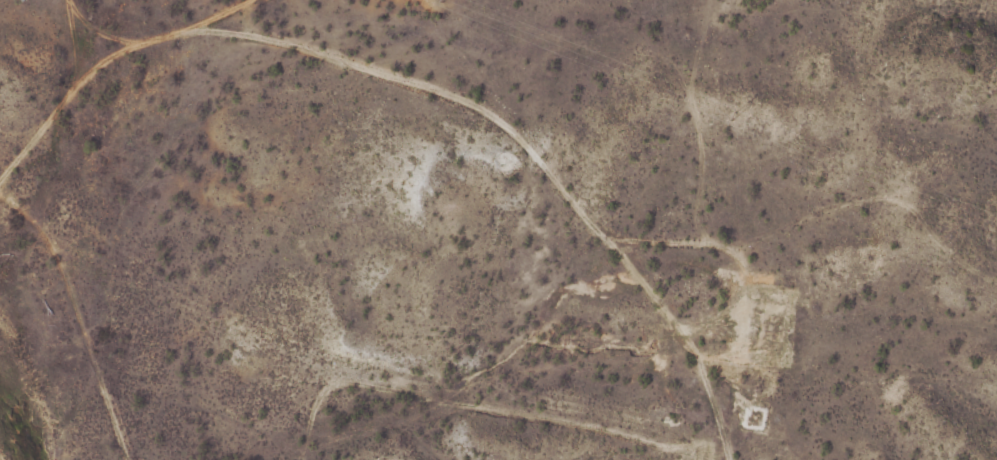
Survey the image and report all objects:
power tower: (735, 113)

